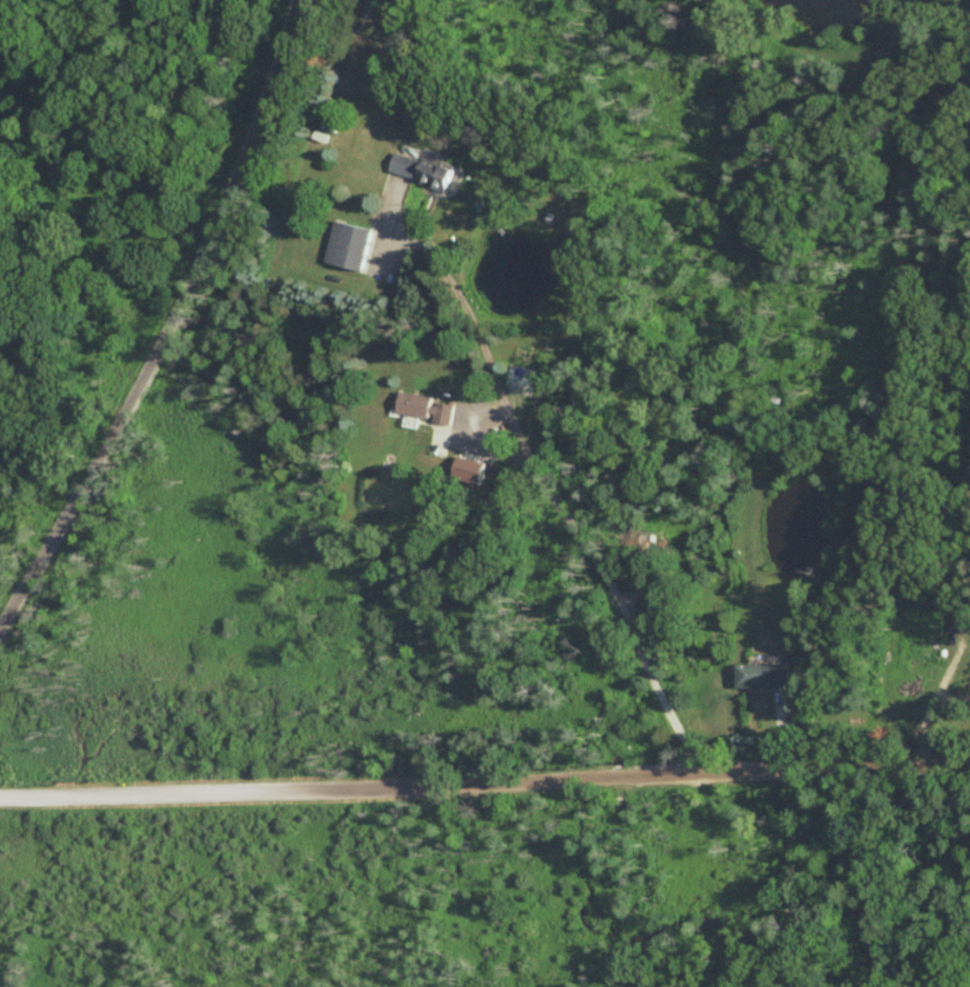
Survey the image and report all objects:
building: (422, 172)
building: (0, 233)
building: (349, 247)
road: (169, 322)
building: (521, 379)
building: (421, 408)
building: (2, 426)
road: (551, 500)
building: (763, 678)
road: (485, 780)
road: (799, 878)

